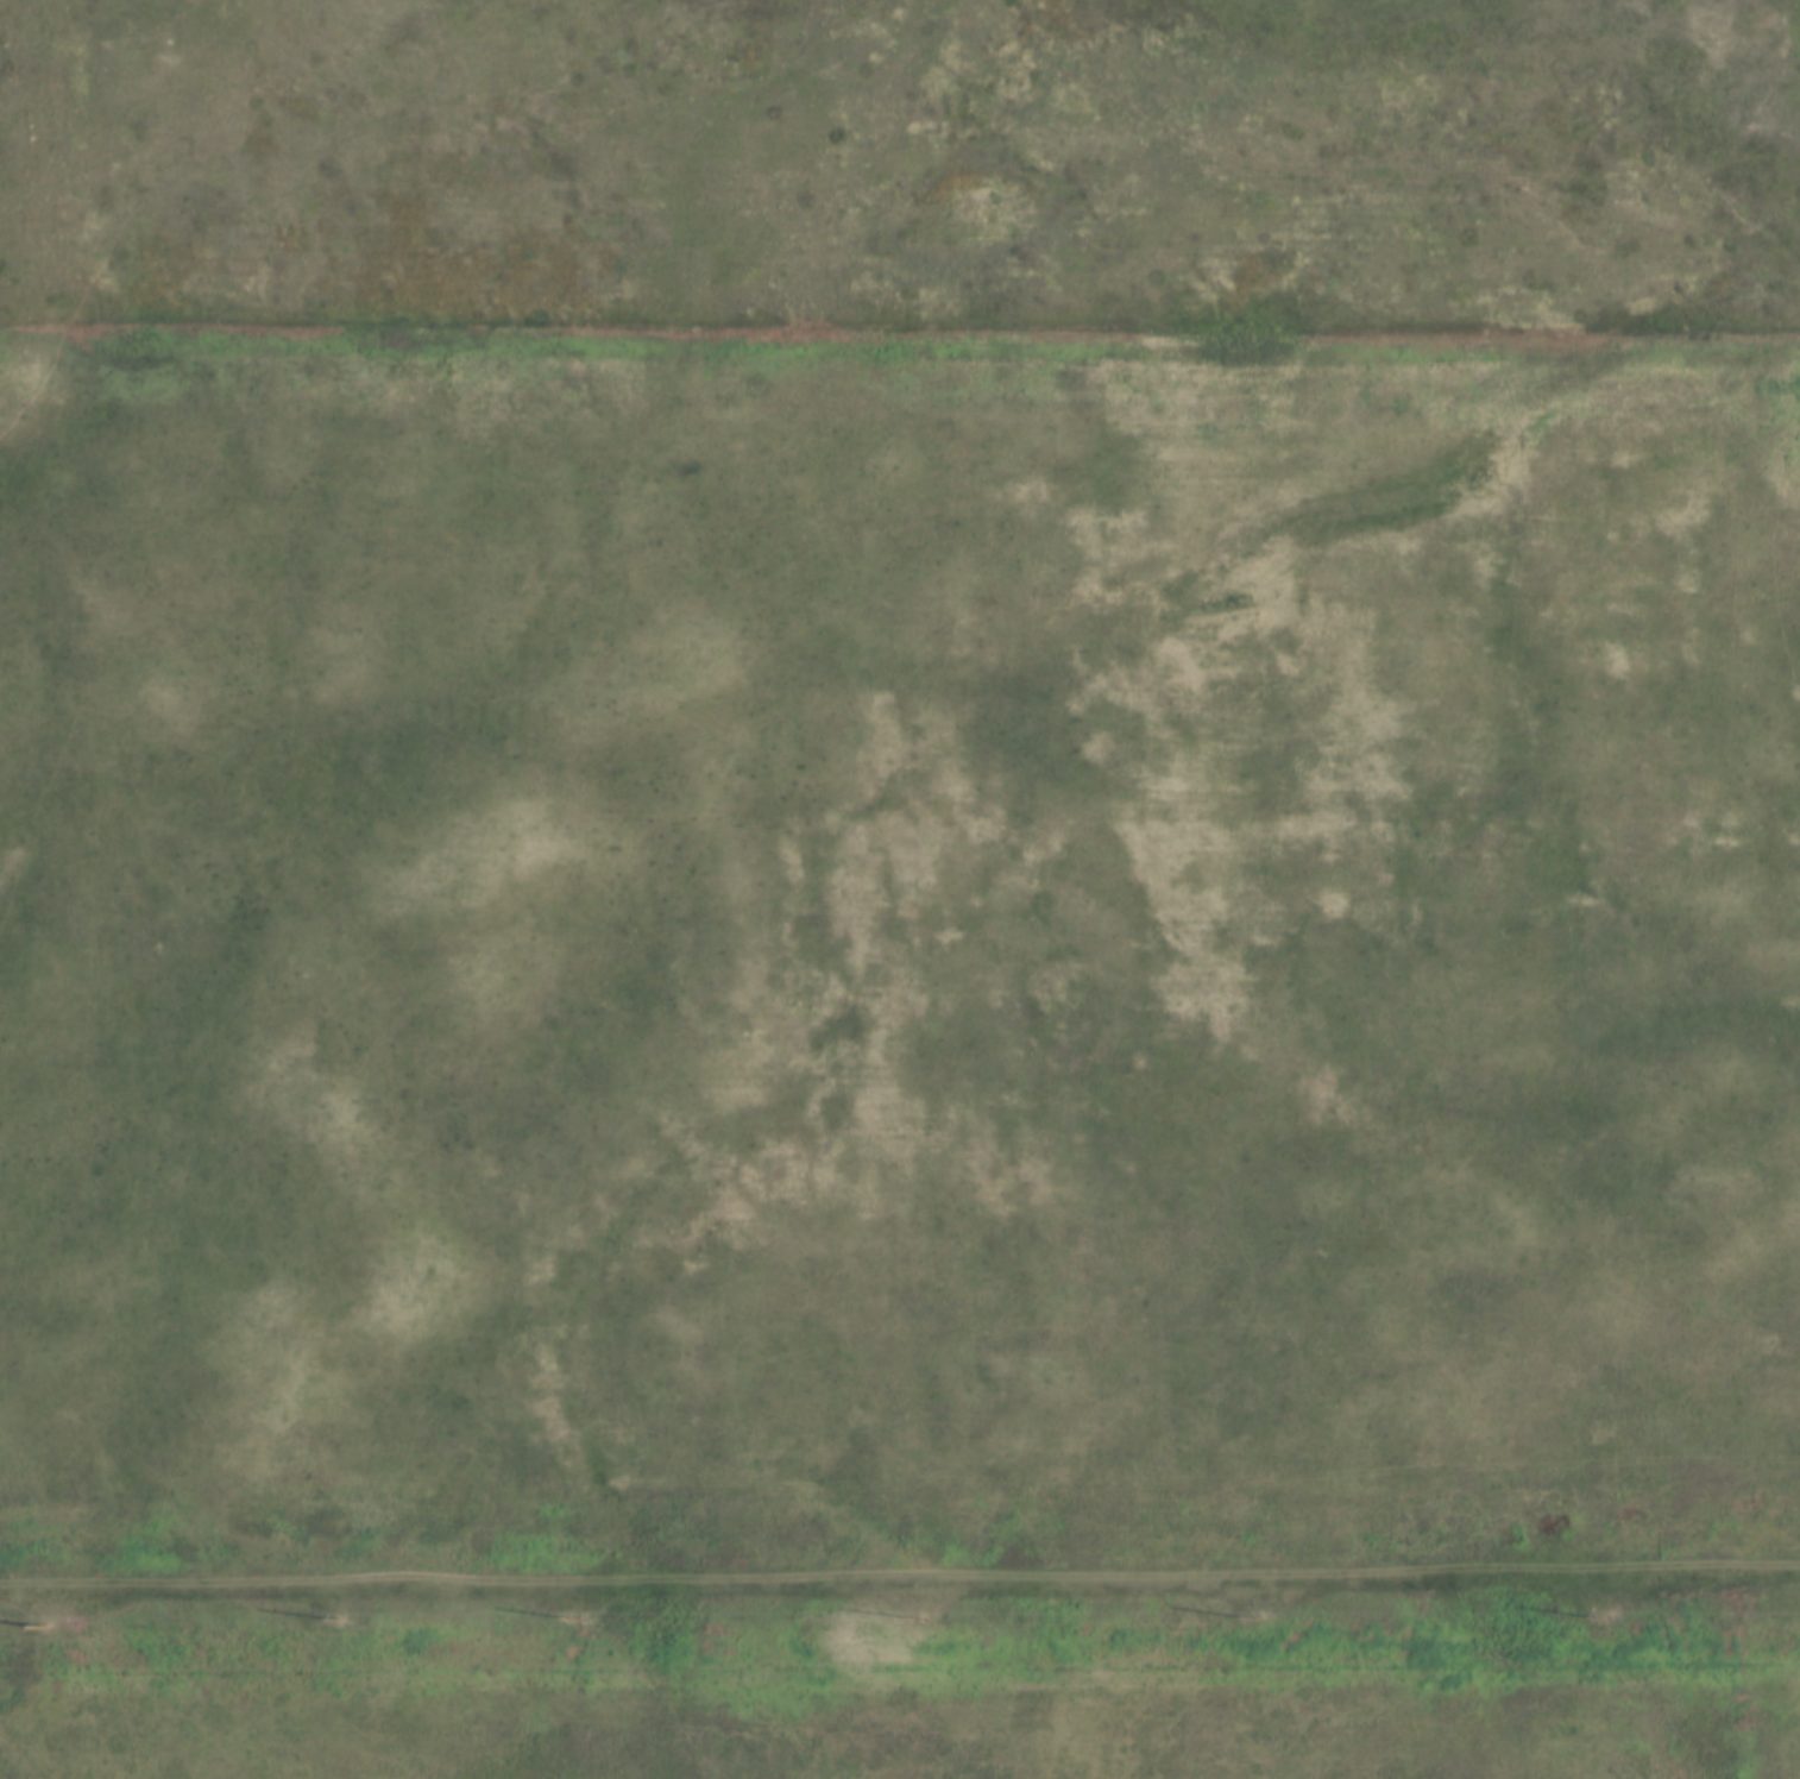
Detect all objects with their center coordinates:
road: (1512, 25)
road: (900, 321)
road: (900, 1577)

